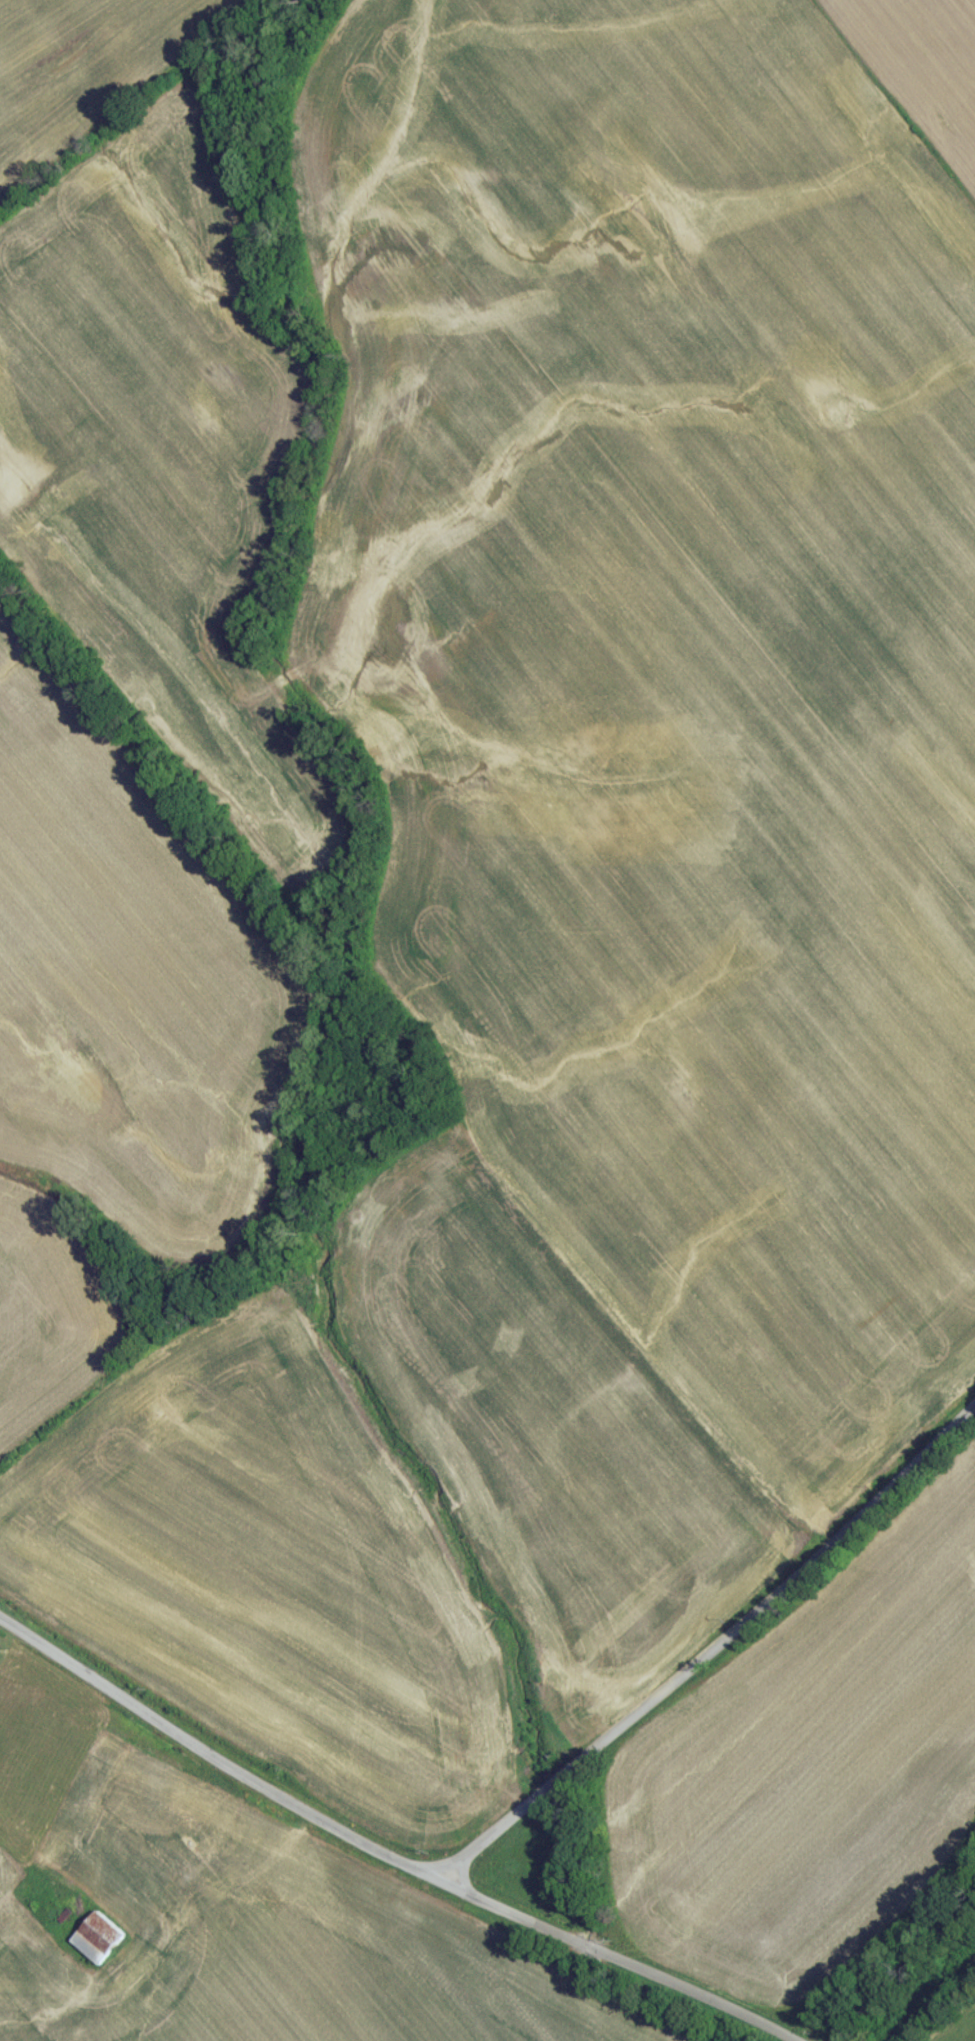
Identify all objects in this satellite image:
road: (713, 1653)
road: (380, 1857)
building: (99, 1944)

